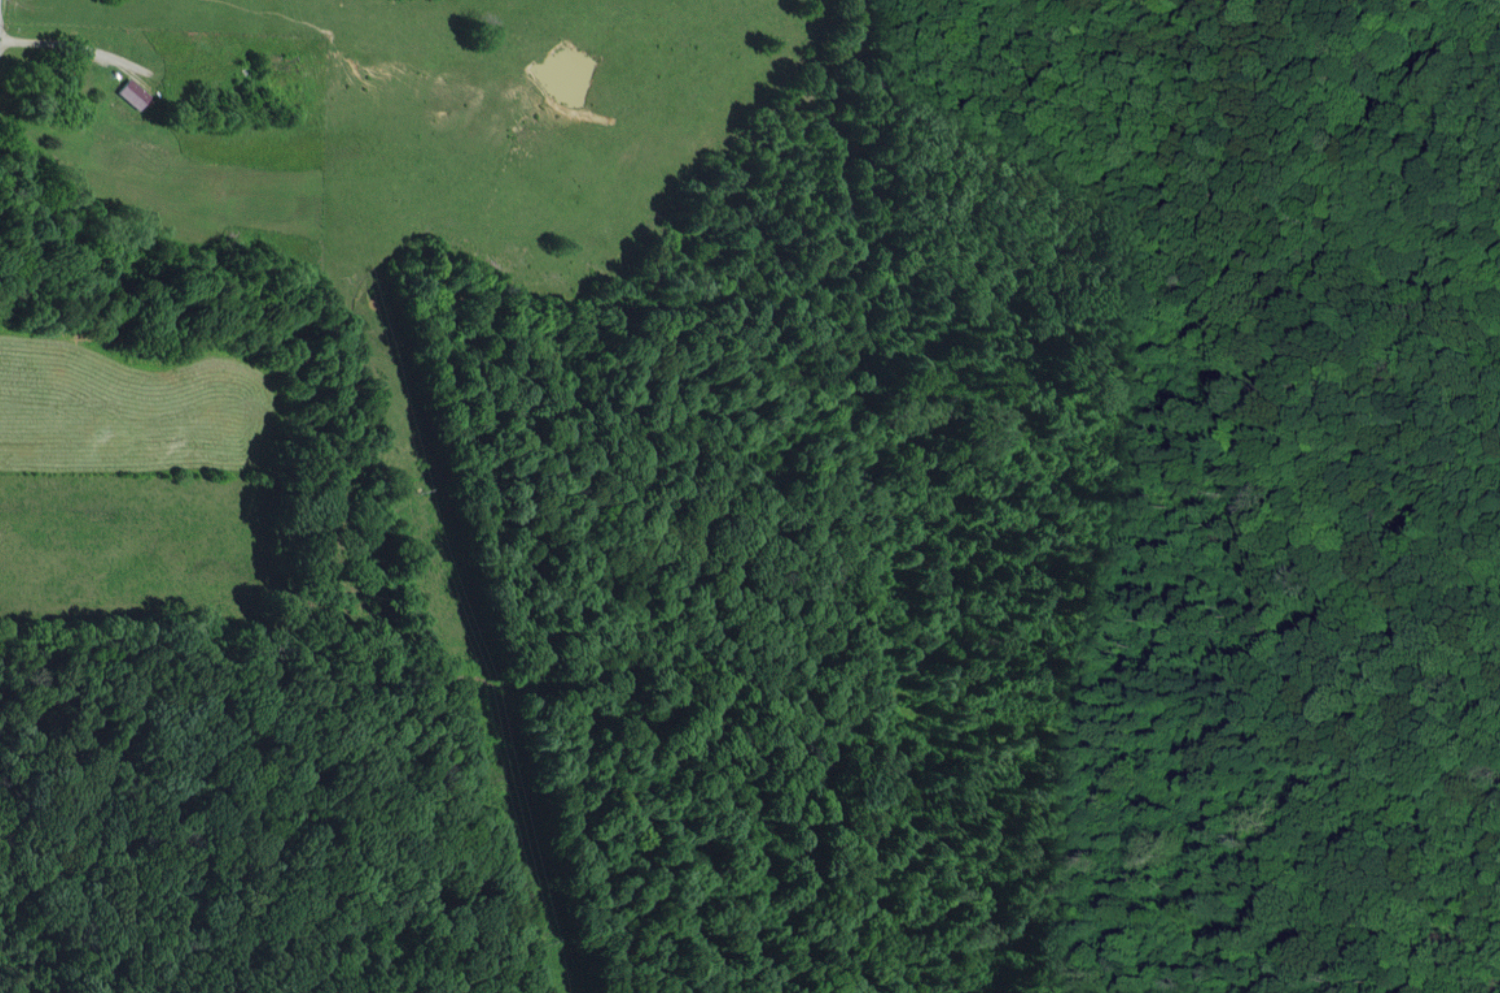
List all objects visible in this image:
building: (136, 96)

